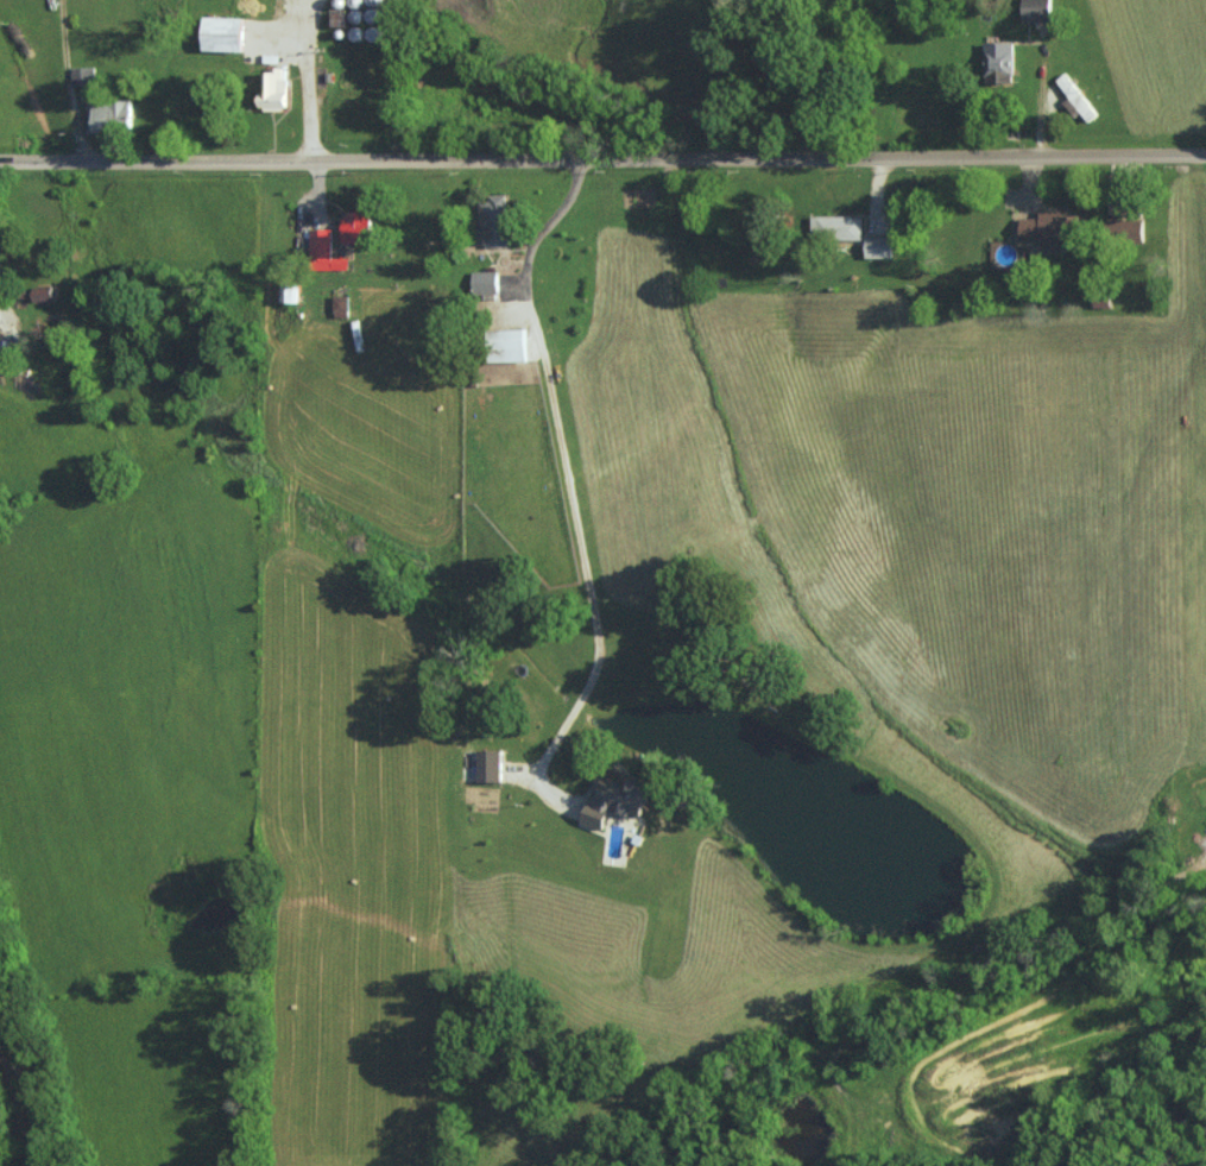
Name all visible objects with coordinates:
building: (1036, 10)
building: (339, 15)
building: (223, 32)
building: (999, 61)
building: (82, 76)
road: (305, 80)
building: (272, 88)
building: (1075, 99)
building: (109, 114)
road: (602, 159)
building: (494, 220)
building: (356, 226)
building: (838, 226)
building: (1049, 226)
building: (1128, 229)
building: (878, 246)
building: (324, 251)
building: (485, 281)
building: (290, 291)
building: (43, 292)
building: (340, 305)
building: (507, 345)
building: (490, 765)
building: (614, 799)
railway: (21, 1090)

